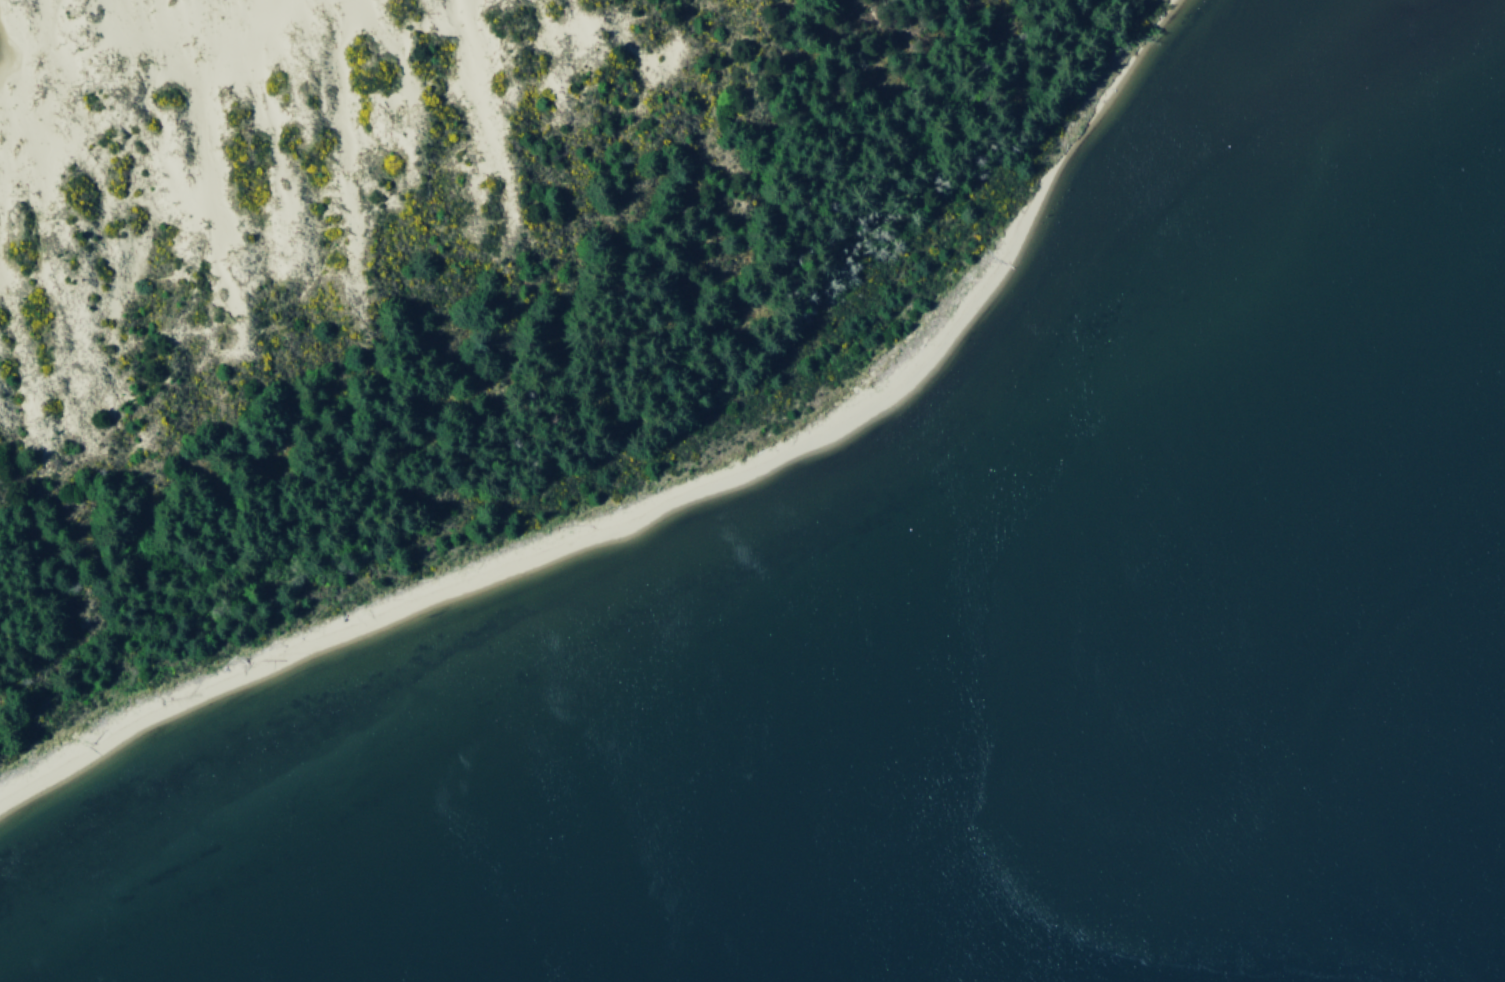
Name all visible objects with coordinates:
river: (1349, 869)

